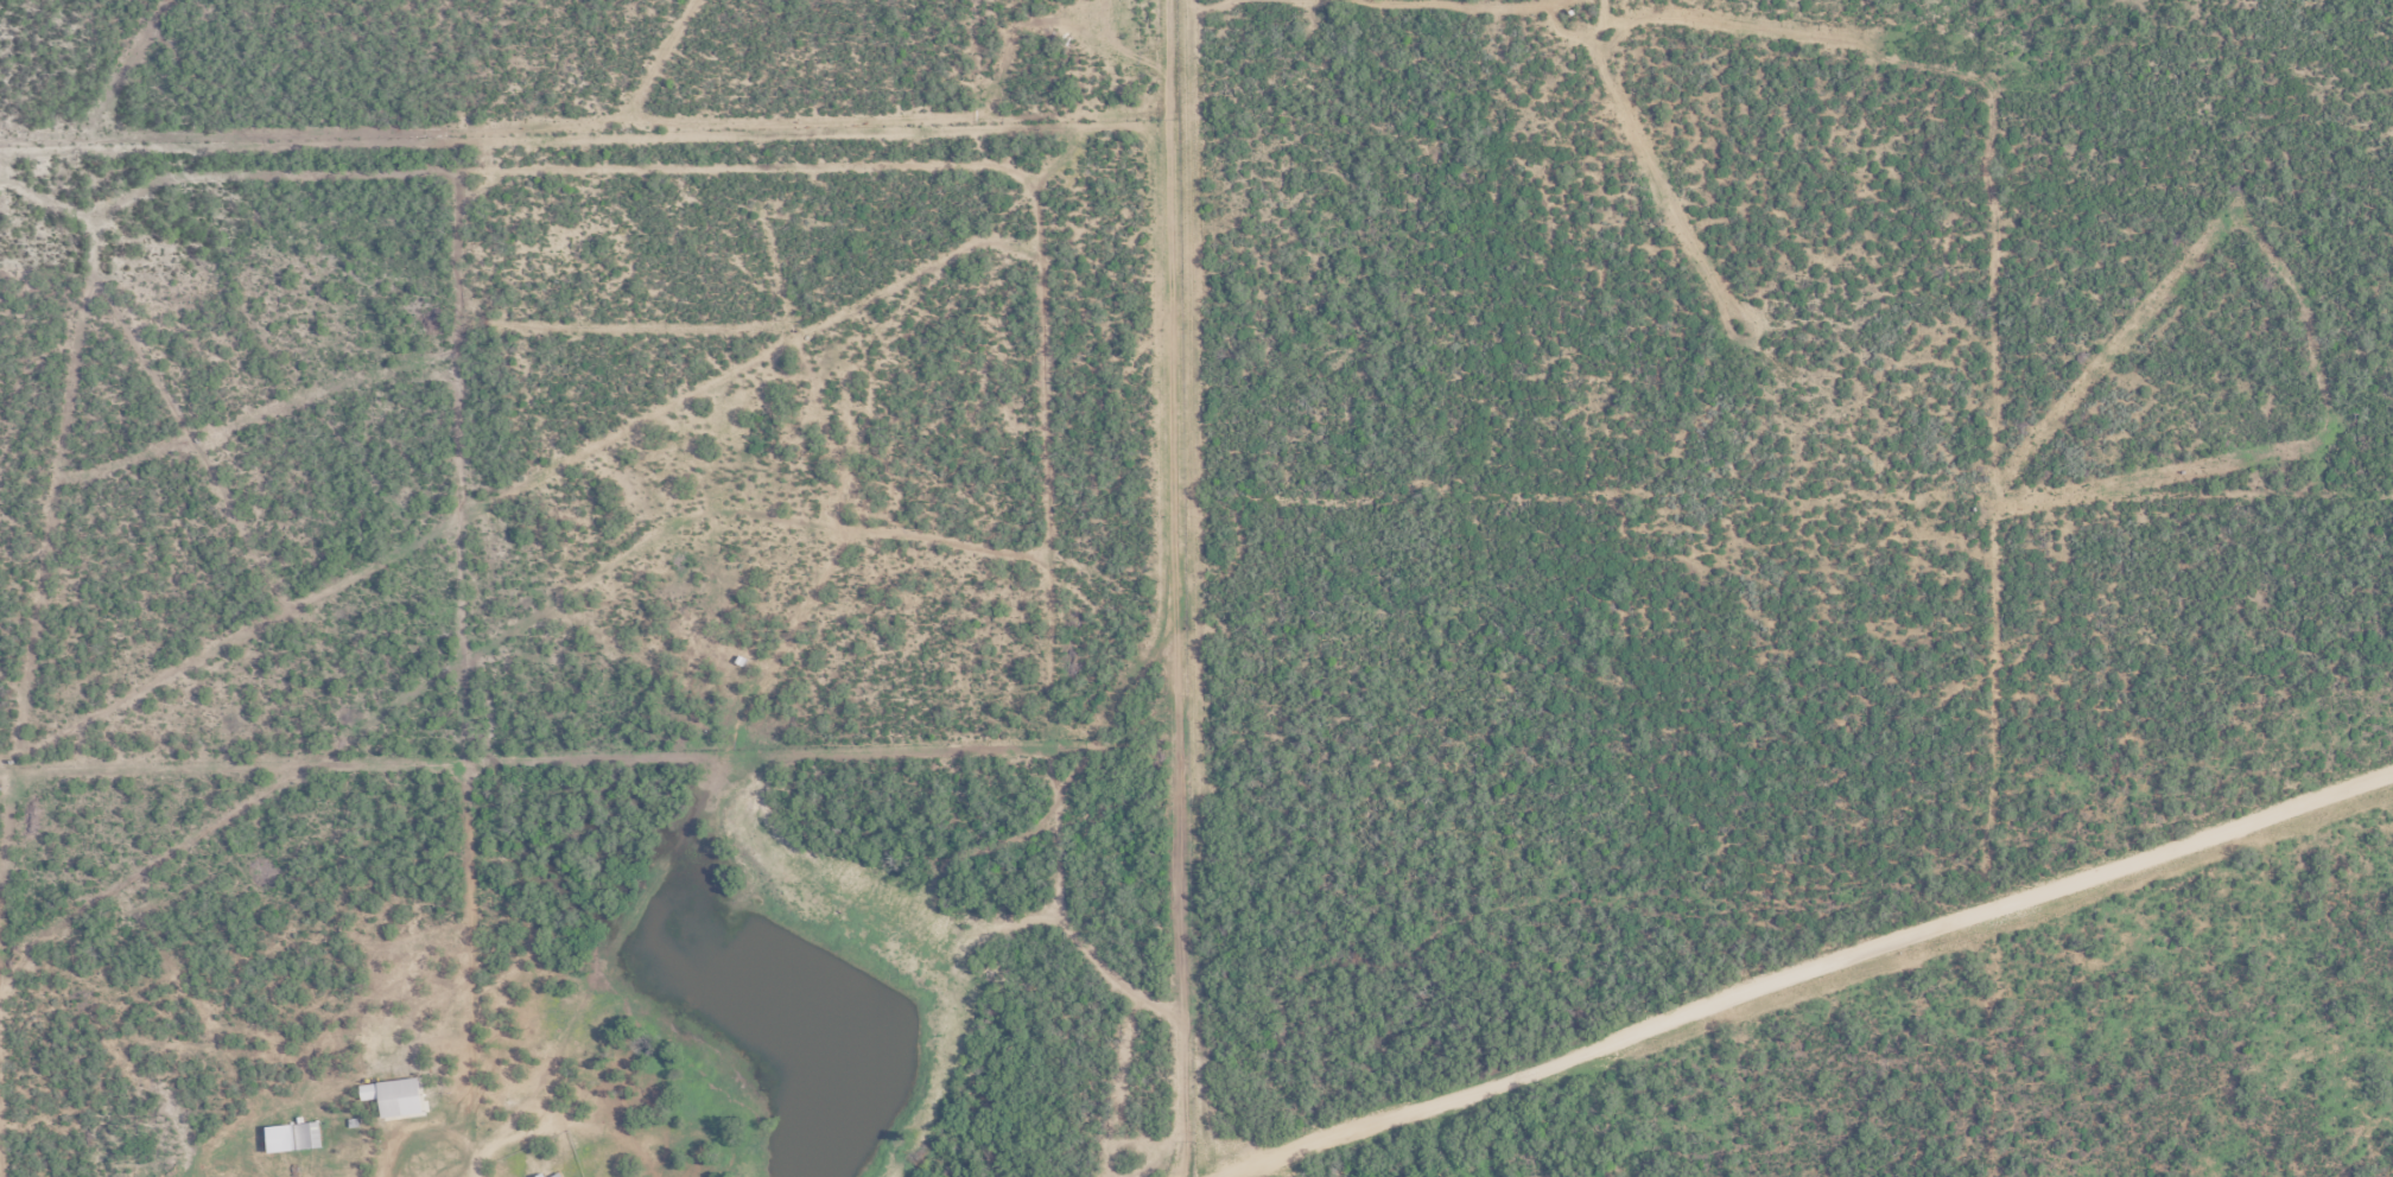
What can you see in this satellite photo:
road: (1798, 972)

